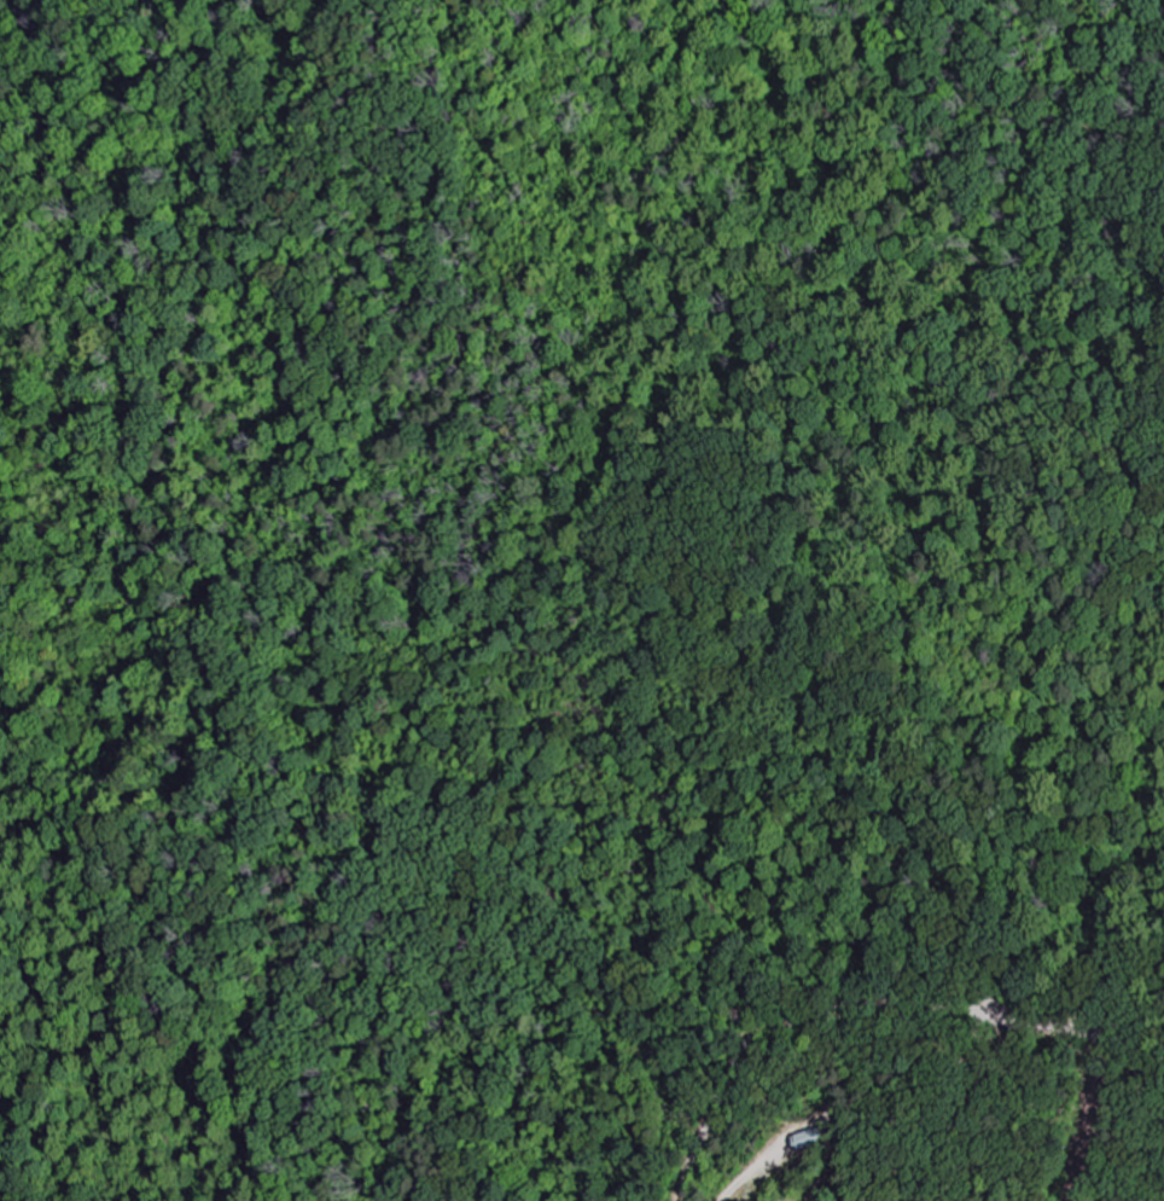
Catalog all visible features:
road: (825, 1009)
road: (751, 1172)

